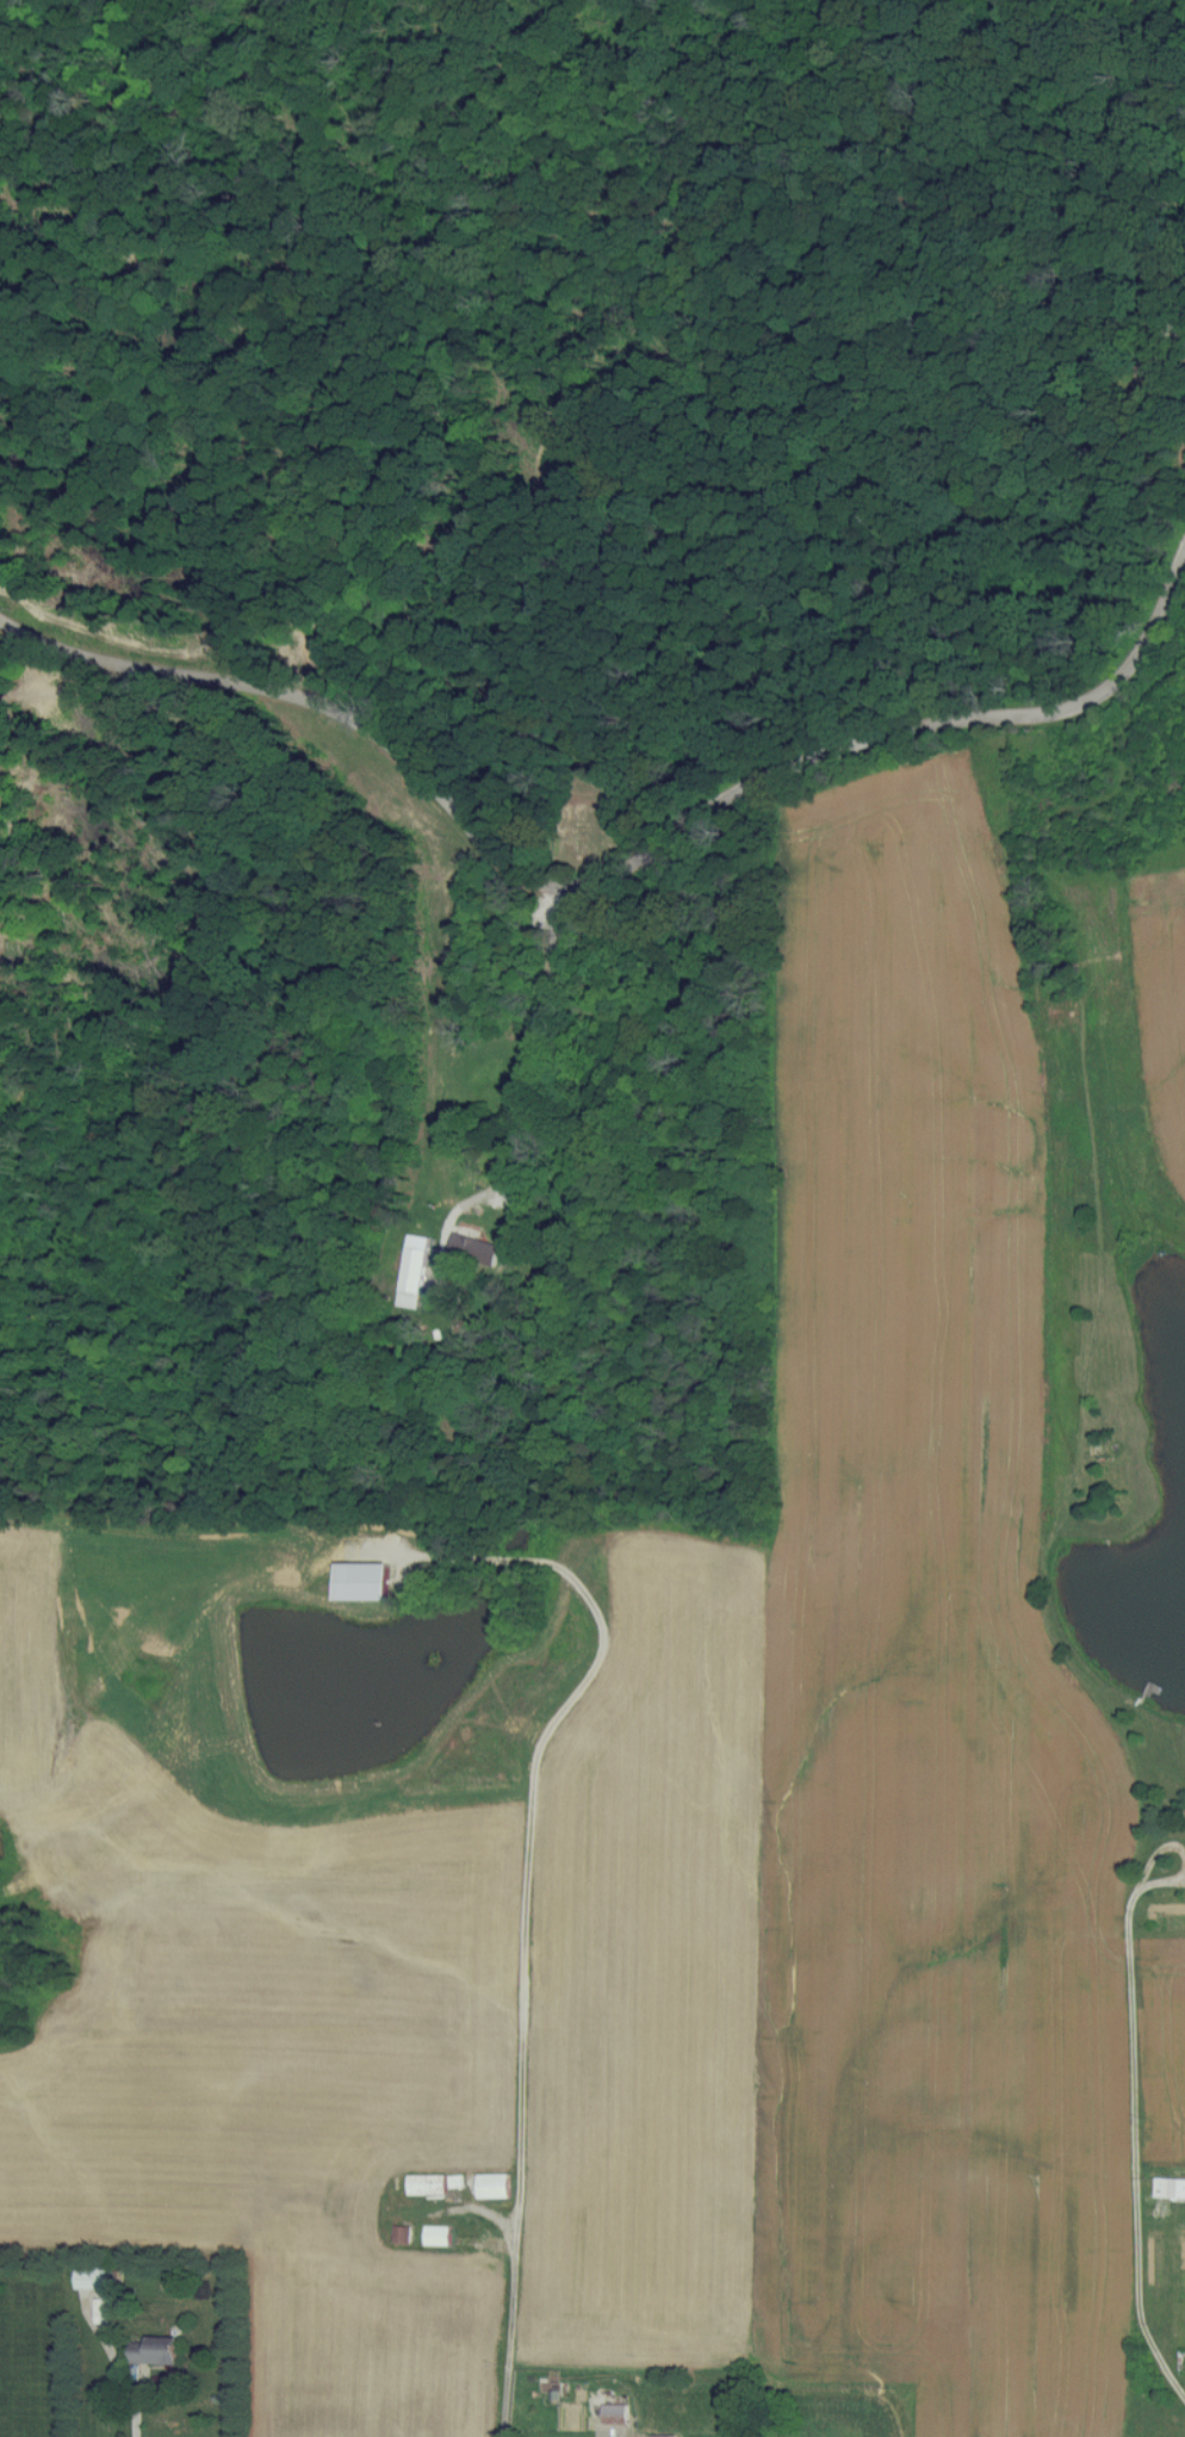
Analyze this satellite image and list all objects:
building: (1142, 362)
road: (612, 873)
road: (540, 1037)
building: (473, 1249)
building: (412, 1271)
road: (532, 1825)
road: (1155, 1859)
road: (1161, 1884)
building: (123, 2009)
road: (1136, 2150)
building: (426, 2183)
building: (492, 2184)
building: (1170, 2187)
building: (296, 2231)
building: (436, 2234)
road: (510, 2259)
building: (91, 2277)
building: (153, 2349)
building: (614, 2413)
road: (134, 2419)

